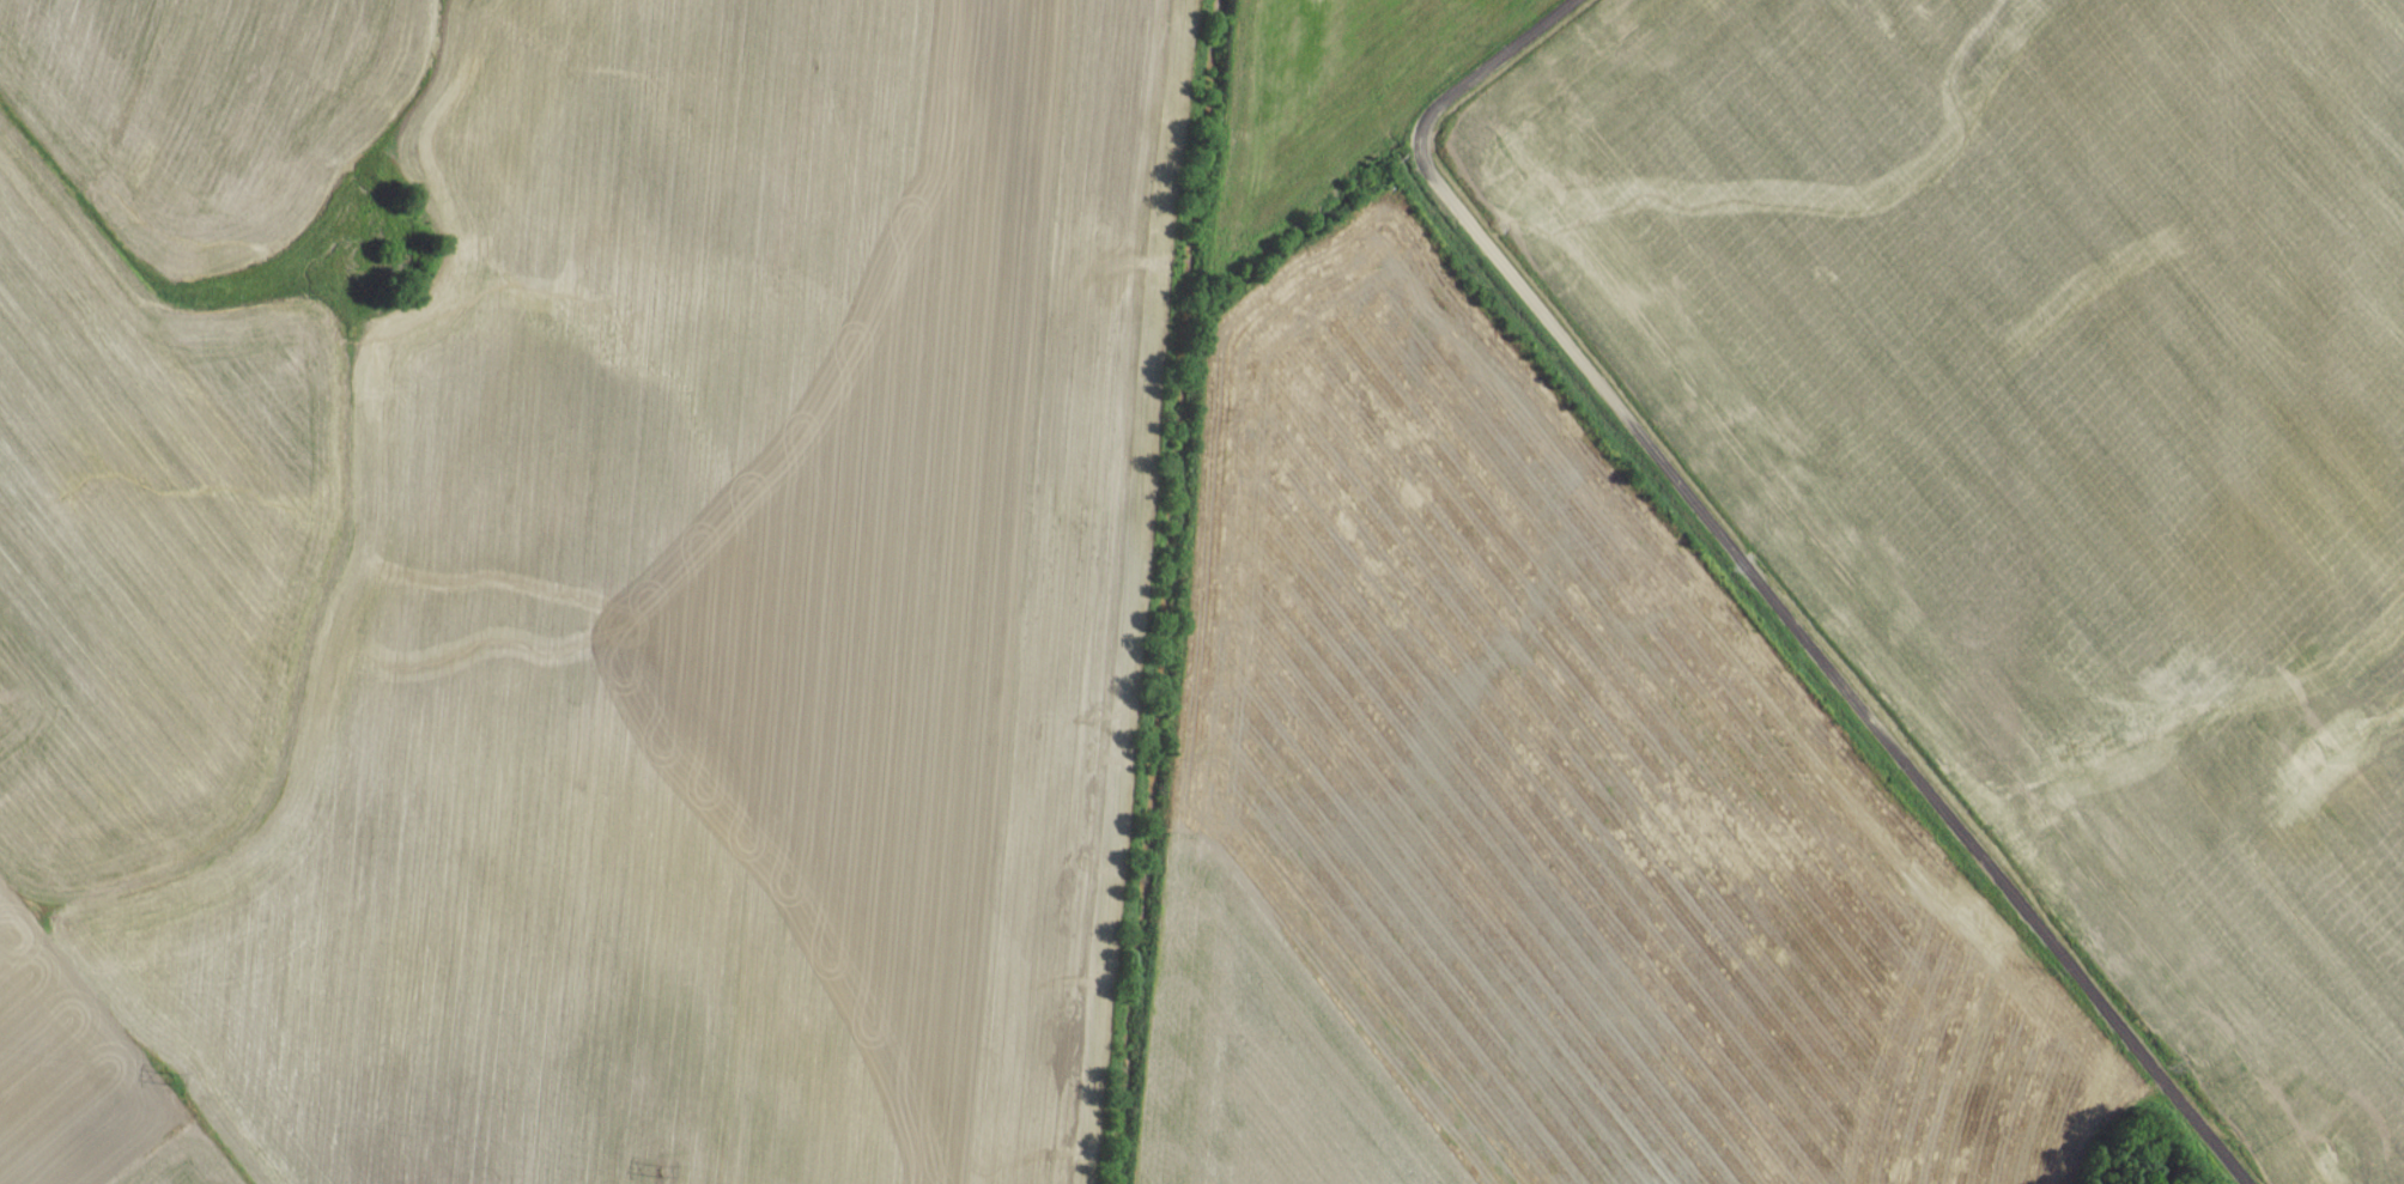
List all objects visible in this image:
road: (1493, 68)
road: (1826, 668)

